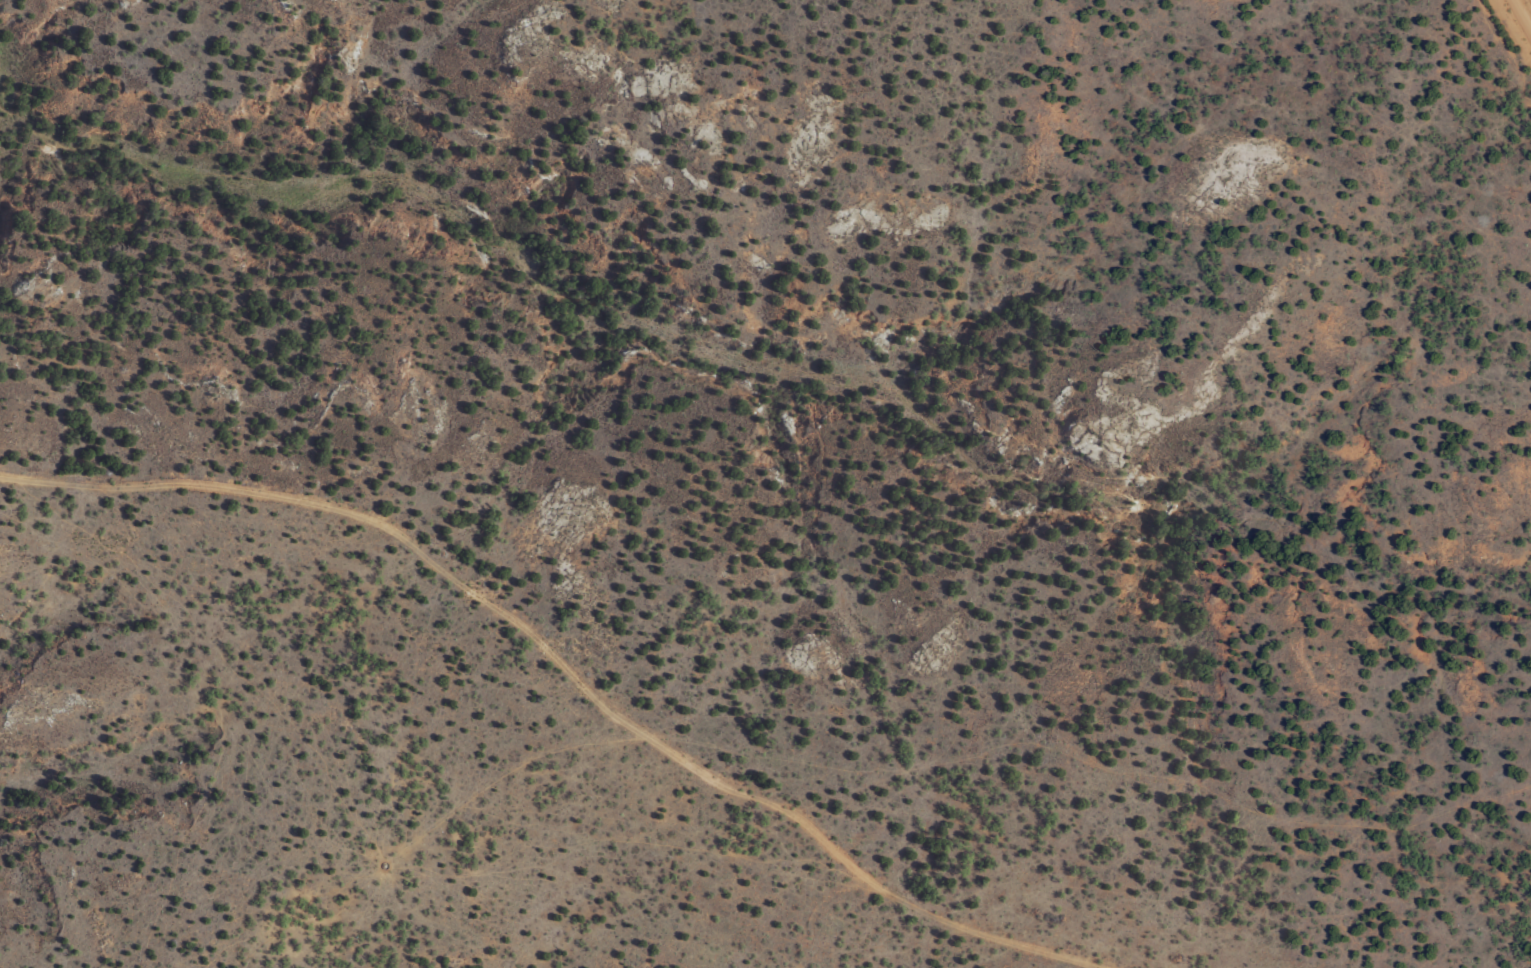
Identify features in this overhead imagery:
road: (1526, 7)
road: (587, 690)

